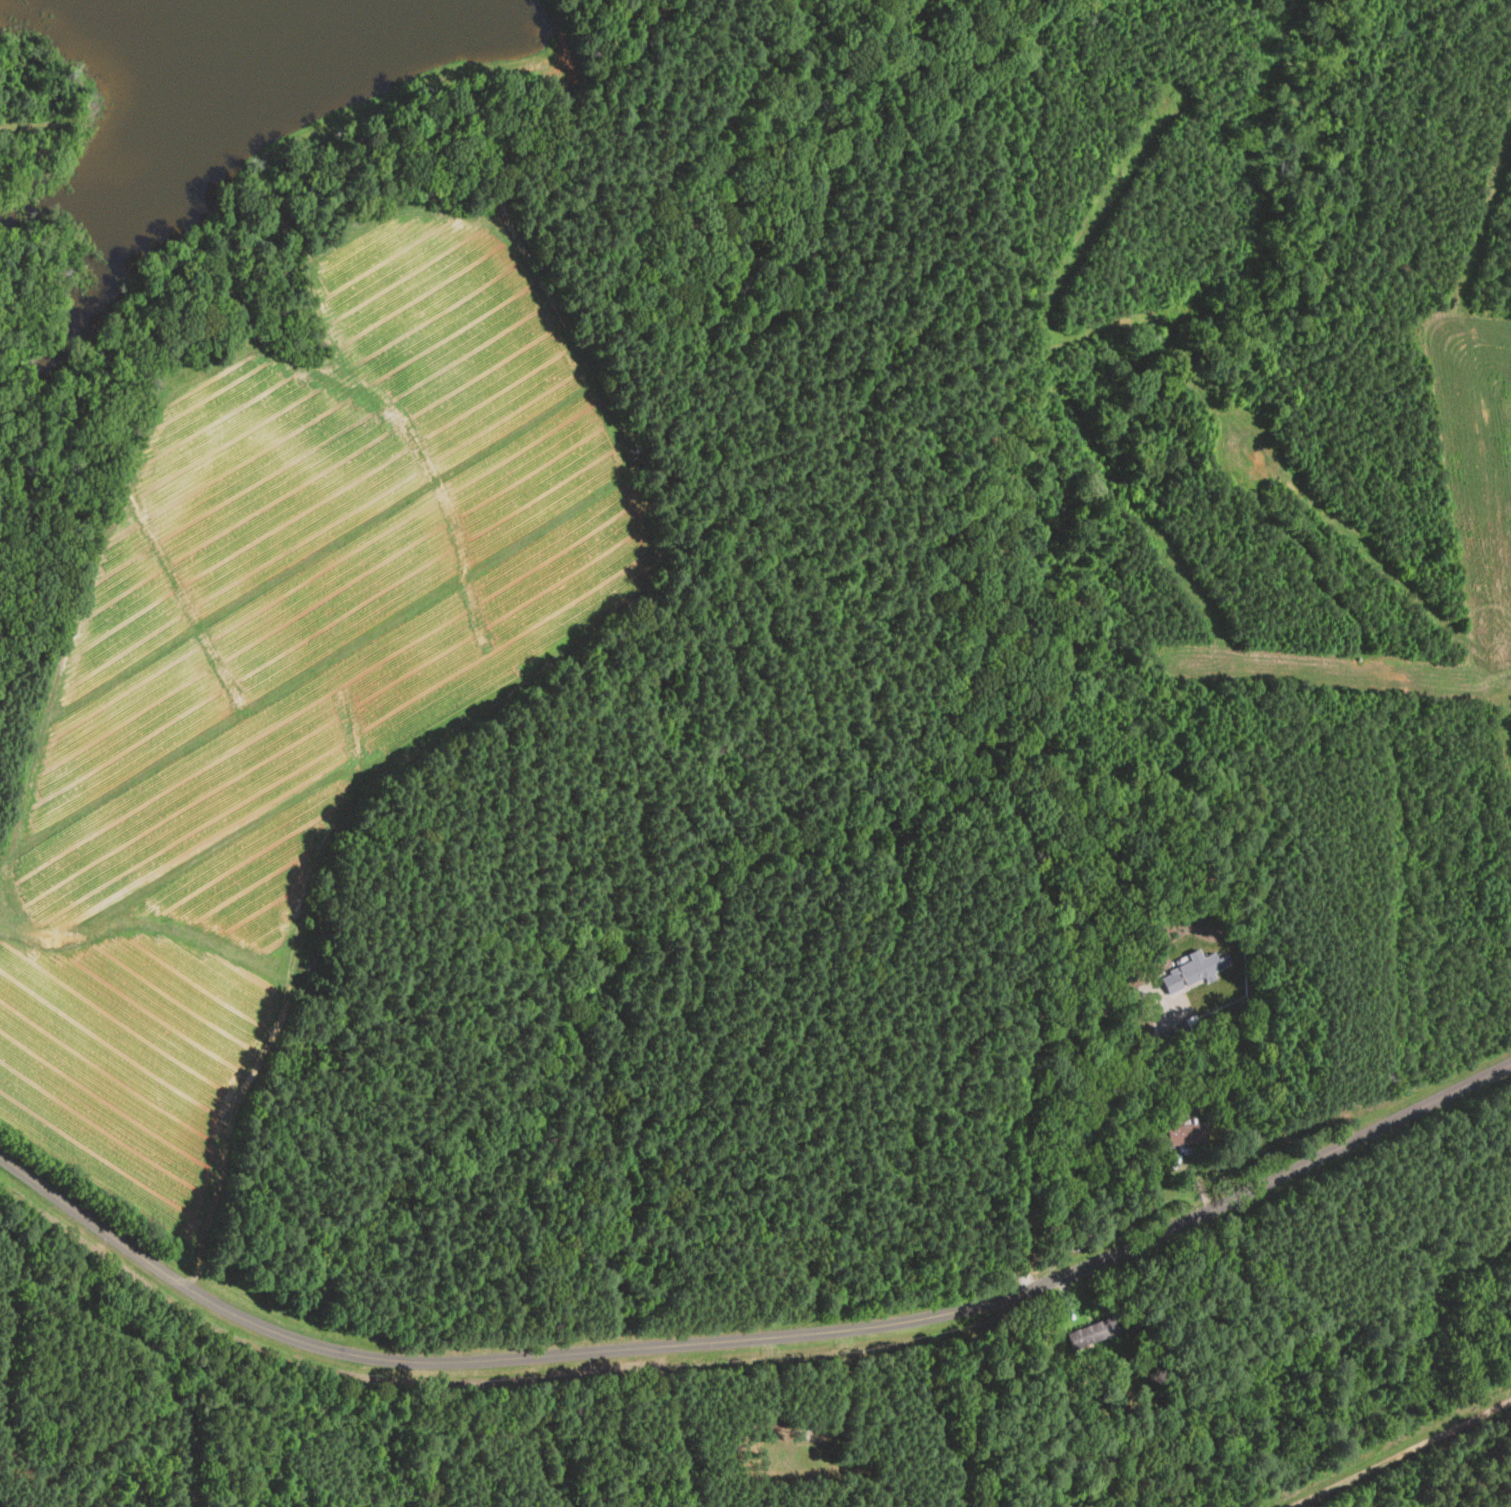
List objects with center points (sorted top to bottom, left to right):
road: (543, 670)
building: (1194, 971)
road: (1024, 1101)
building: (1187, 1134)
building: (1172, 1160)
building: (1093, 1335)
road: (754, 1339)
road: (1400, 1451)

